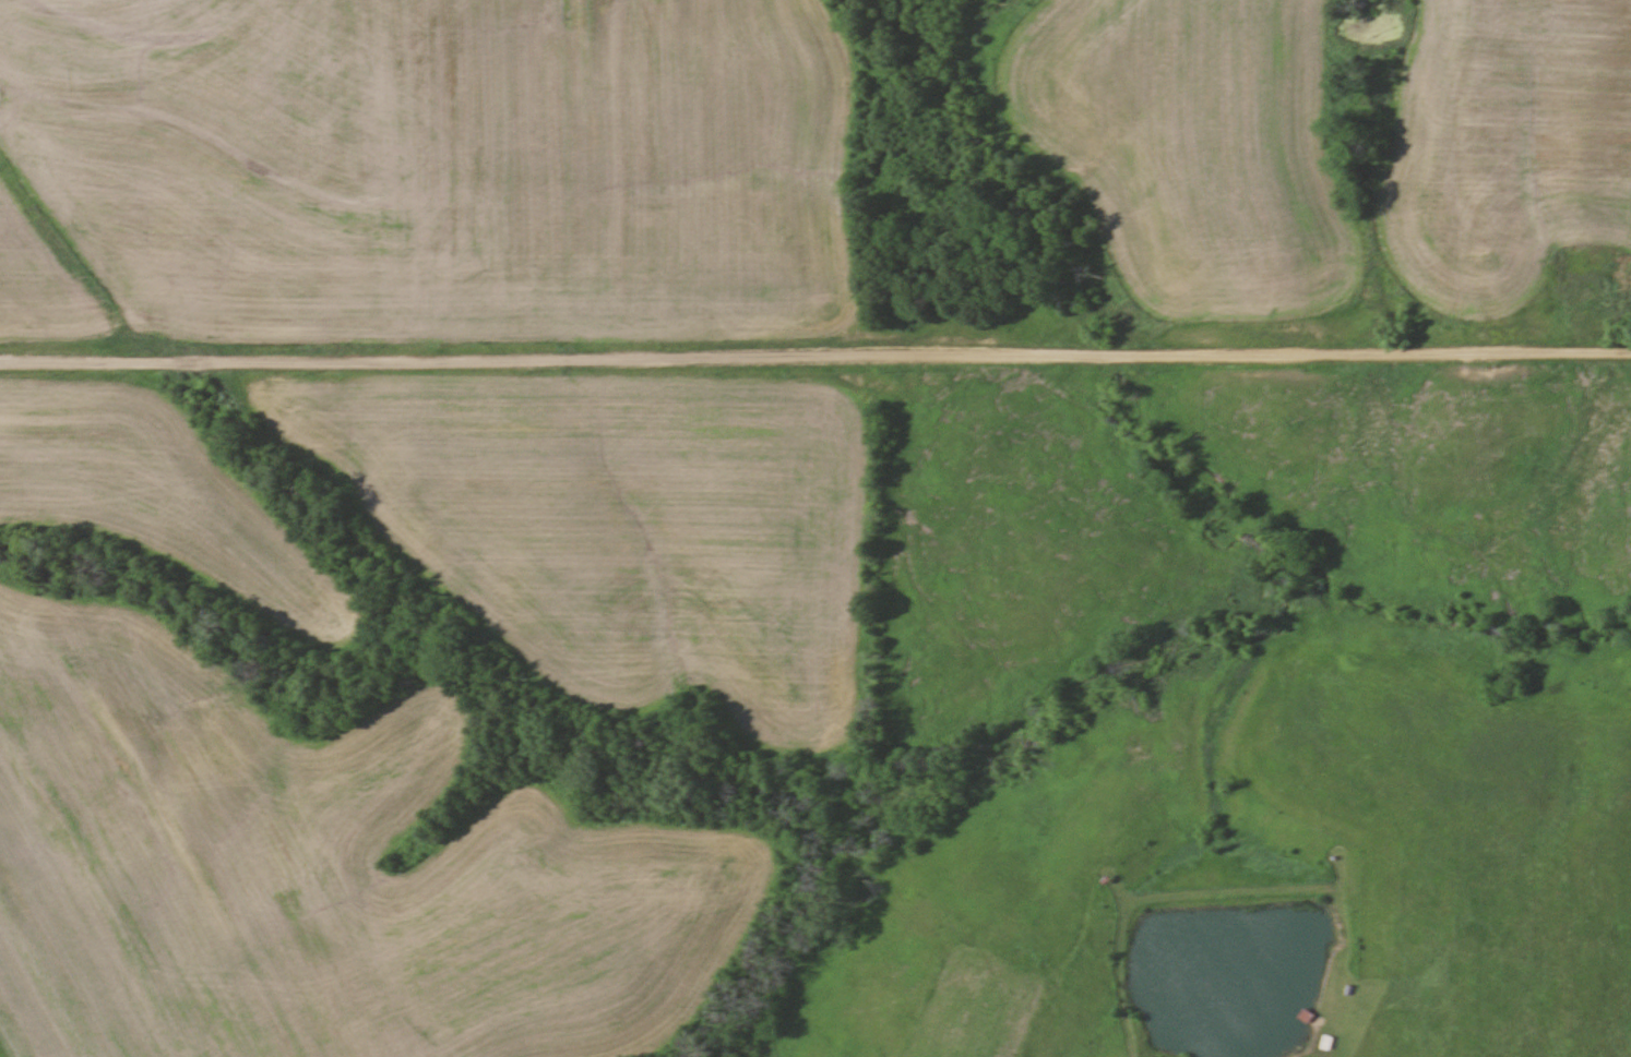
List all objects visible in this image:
road: (814, 360)

